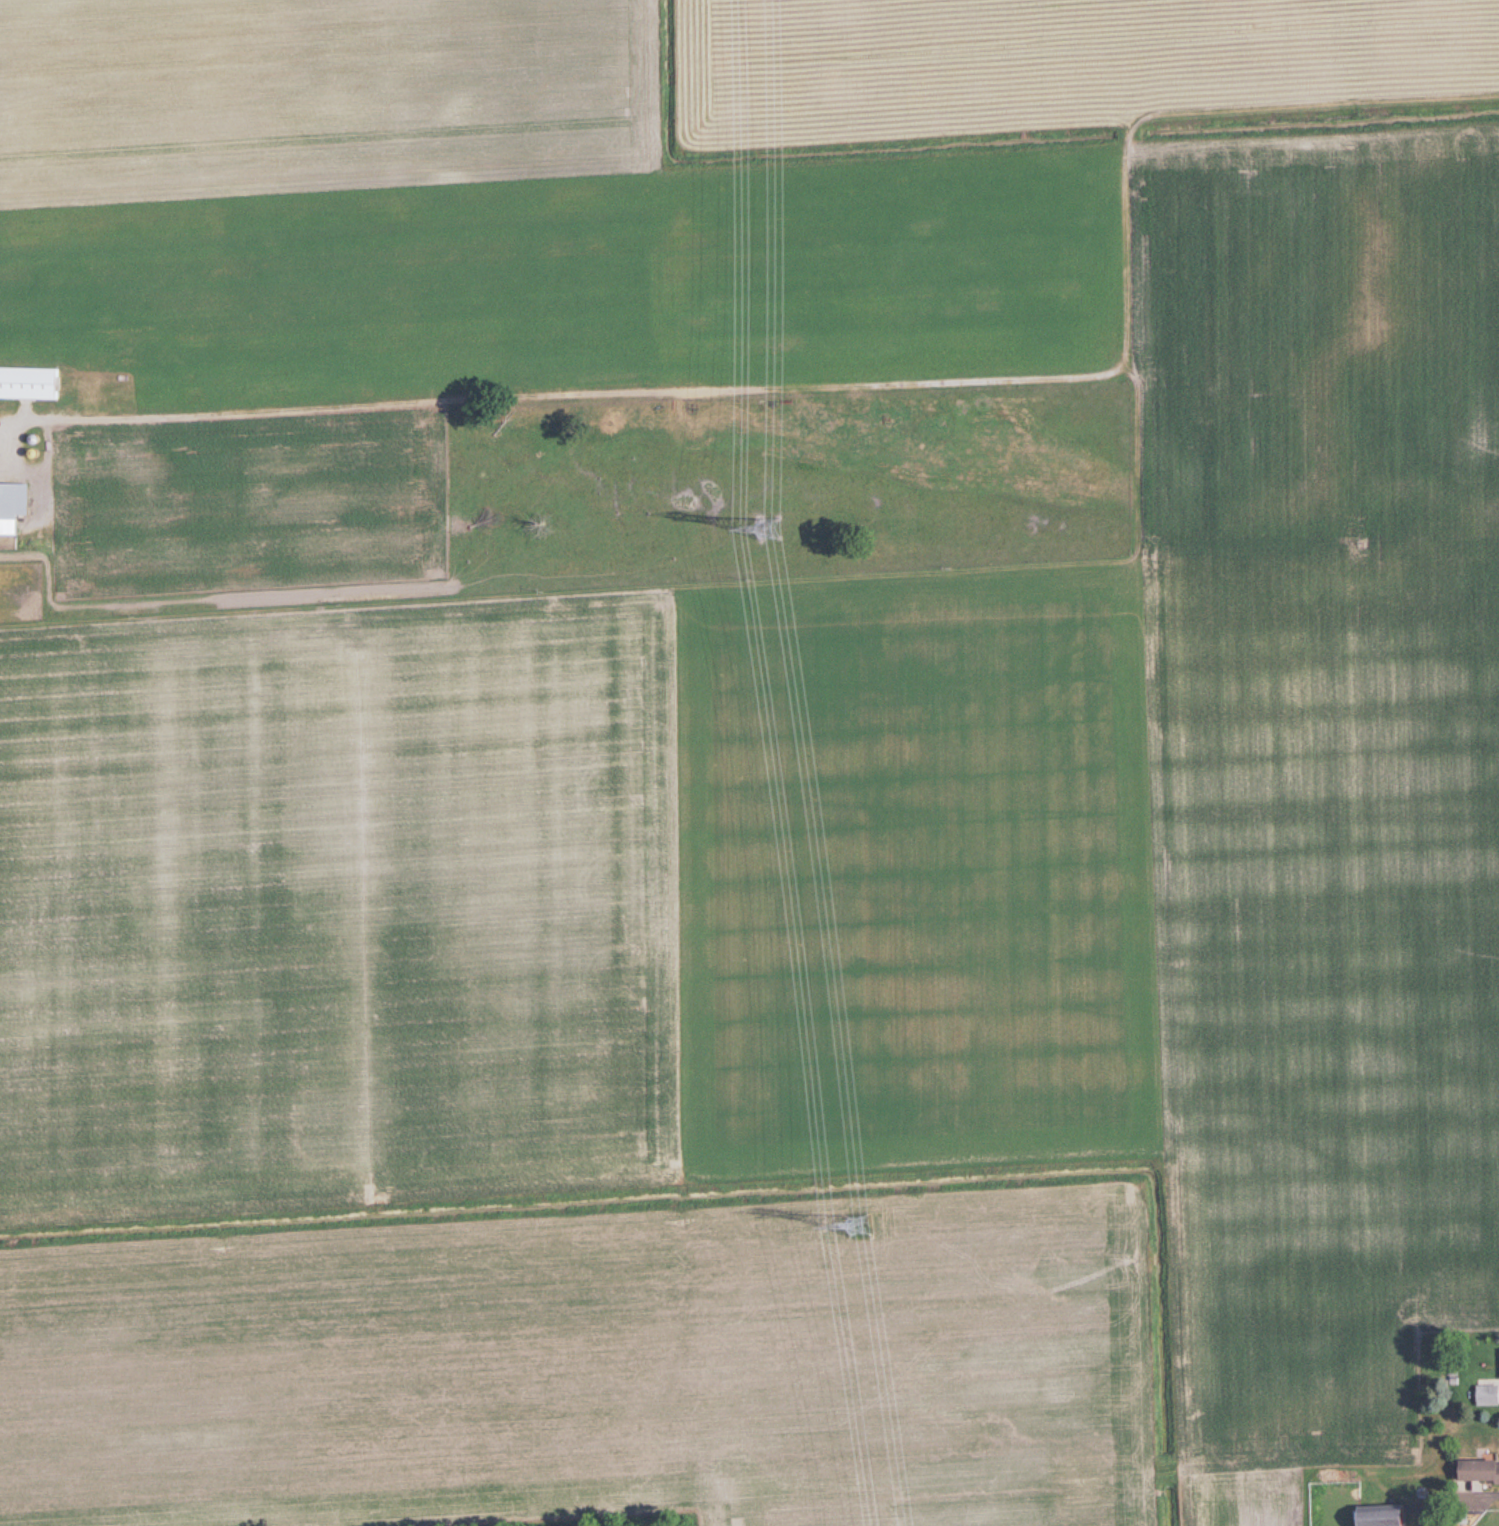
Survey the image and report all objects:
building: (32, 381)
power tower: (771, 528)
power tower: (860, 1225)
building: (1488, 1394)
building: (1483, 1470)
road: (1475, 1492)
building: (1393, 1515)

